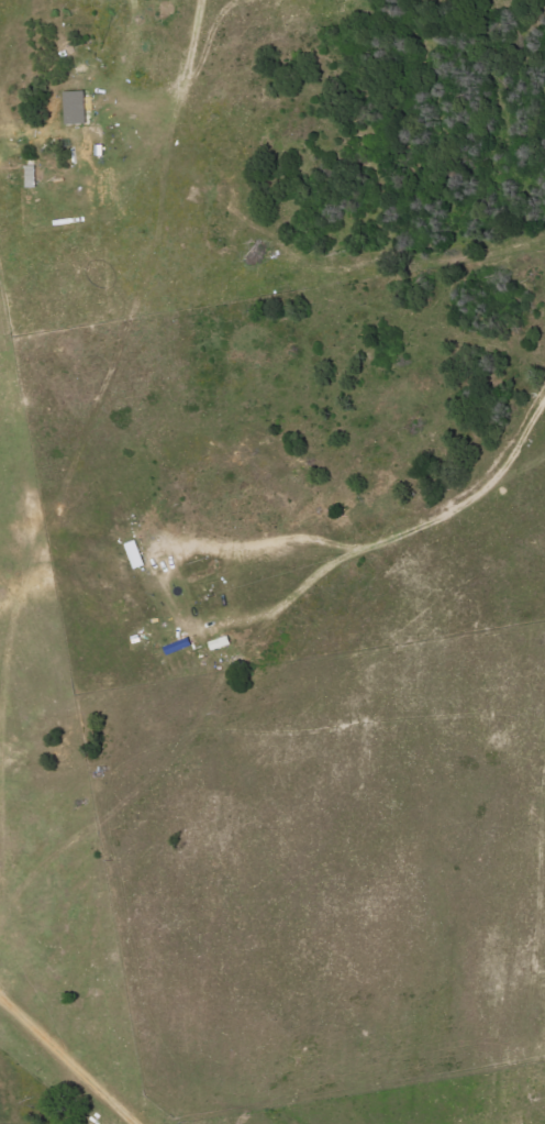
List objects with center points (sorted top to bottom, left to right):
building: (78, 107)
building: (137, 553)

